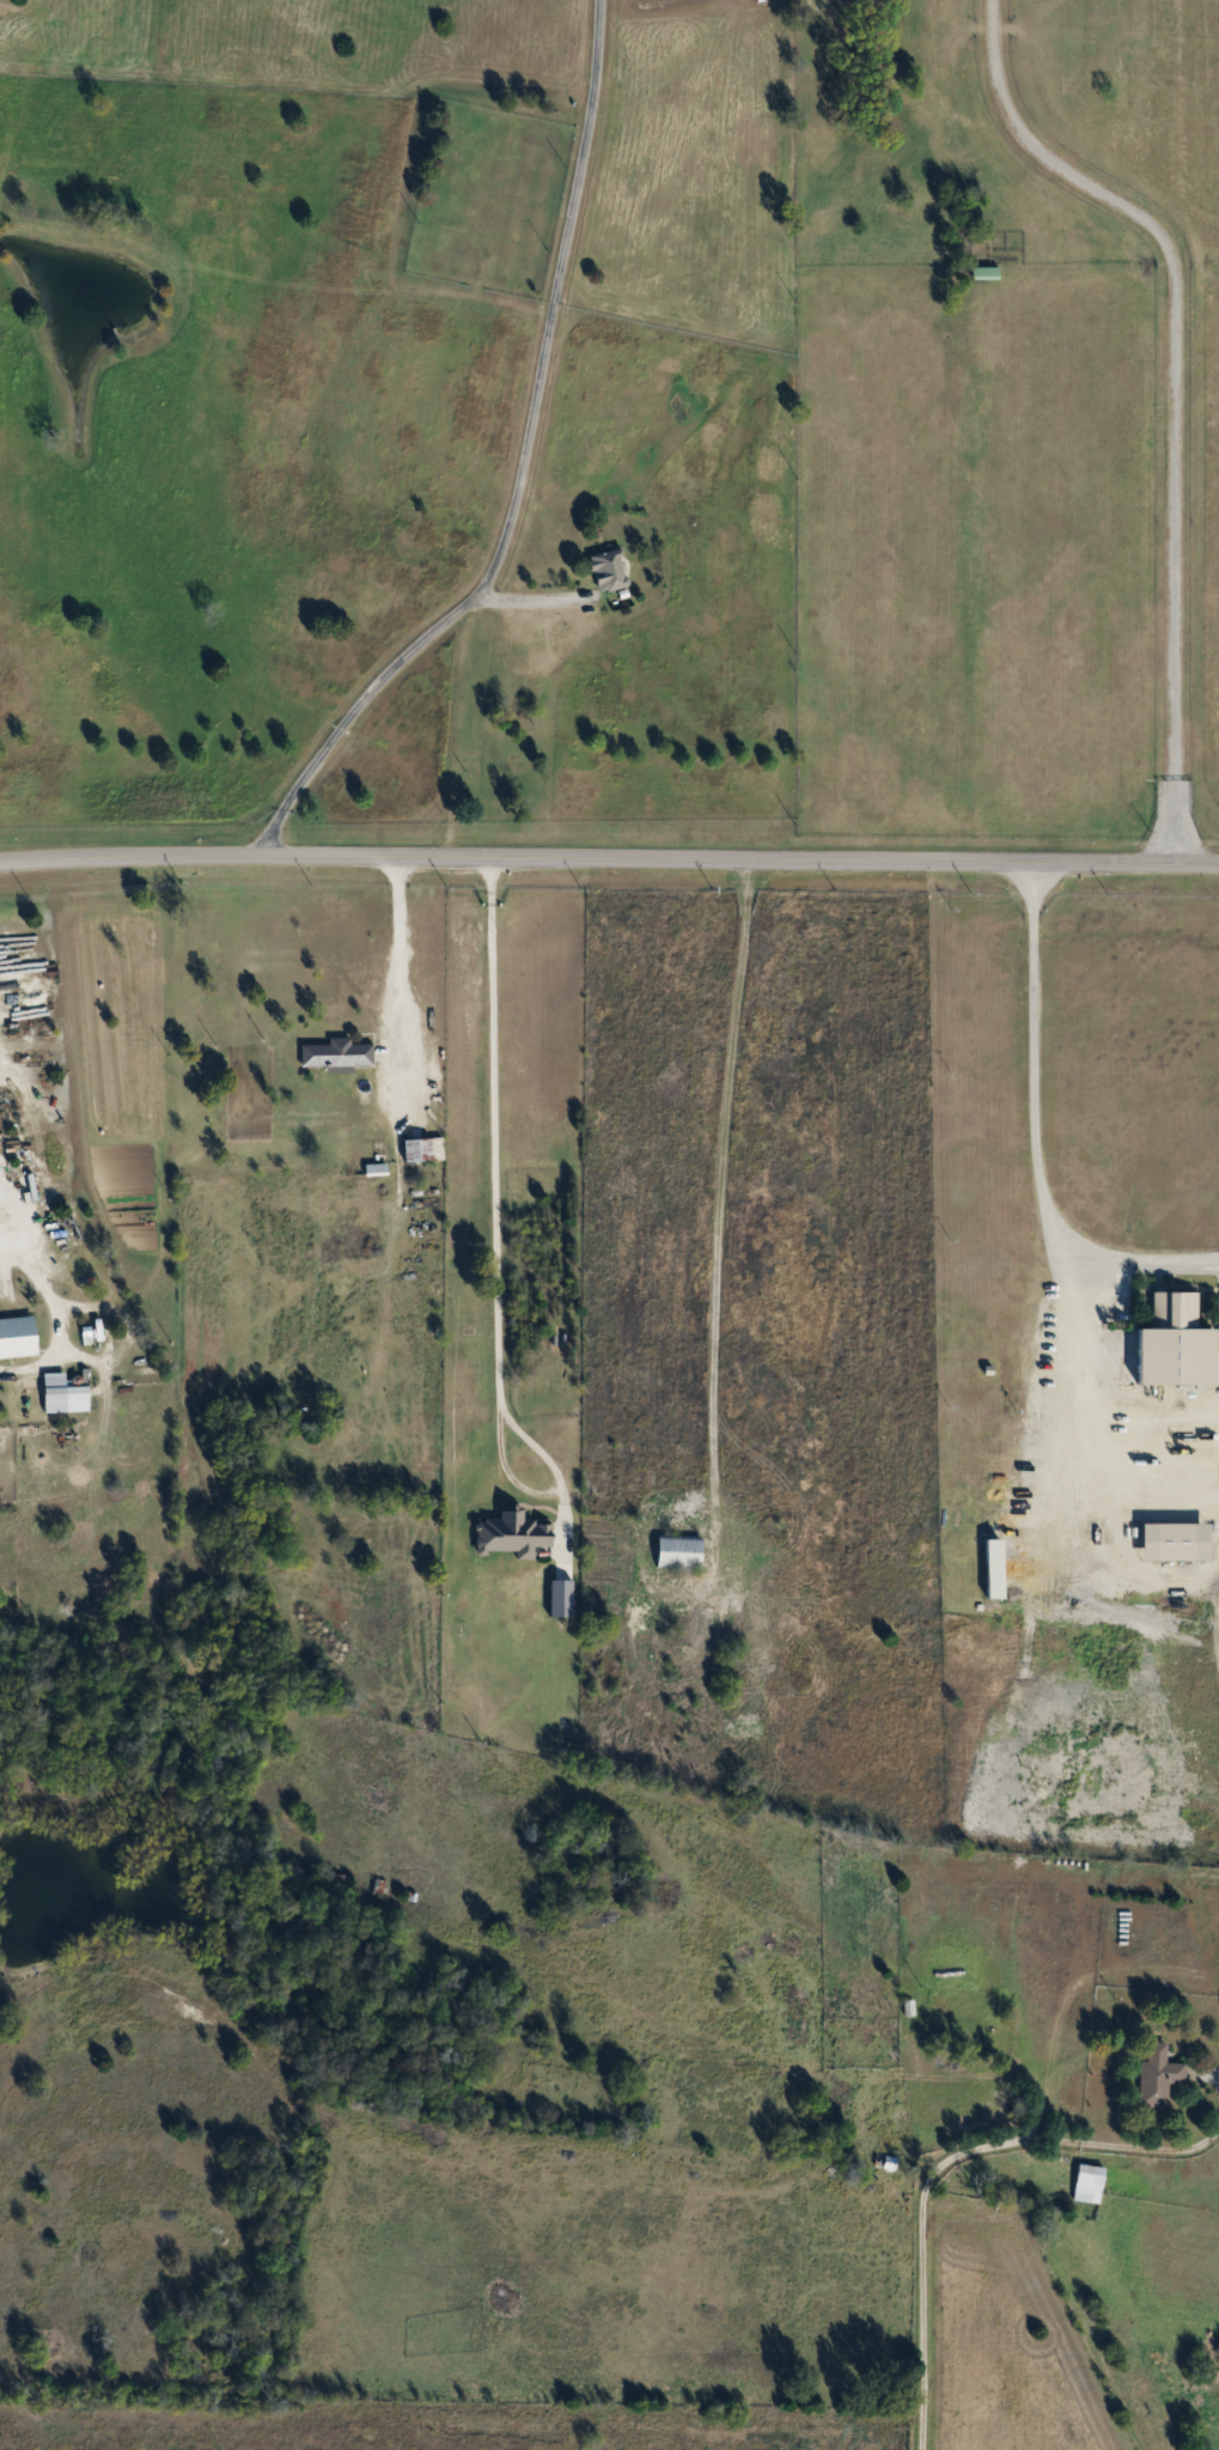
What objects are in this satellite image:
building: (986, 273)
road: (1165, 390)
road: (522, 470)
building: (611, 569)
road: (530, 596)
road: (609, 857)
road: (400, 938)
building: (337, 1052)
road: (1035, 1136)
building: (423, 1149)
road: (717, 1197)
road: (4, 1230)
road: (489, 1250)
building: (19, 1336)
building: (1181, 1339)
road: (1059, 1374)
building: (28, 1387)
building: (68, 1391)
building: (992, 1460)
building: (1180, 1539)
building: (679, 1550)
road: (1097, 1583)
building: (530, 1615)
building: (987, 2048)
building: (1159, 2073)
building: (884, 2160)
building: (1089, 2182)
road: (927, 2183)

